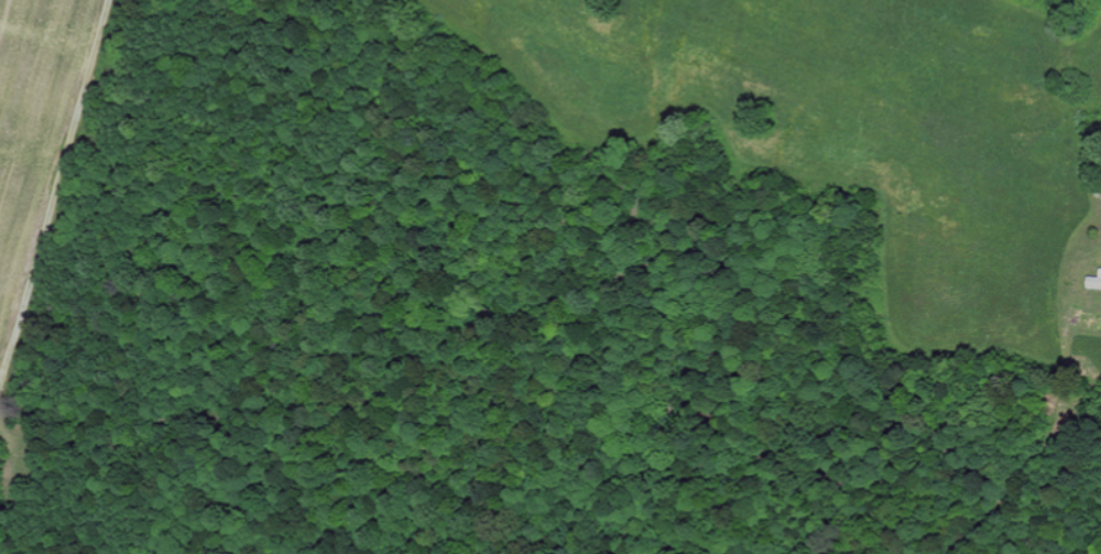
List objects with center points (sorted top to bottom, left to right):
road: (58, 204)
building: (1093, 281)

